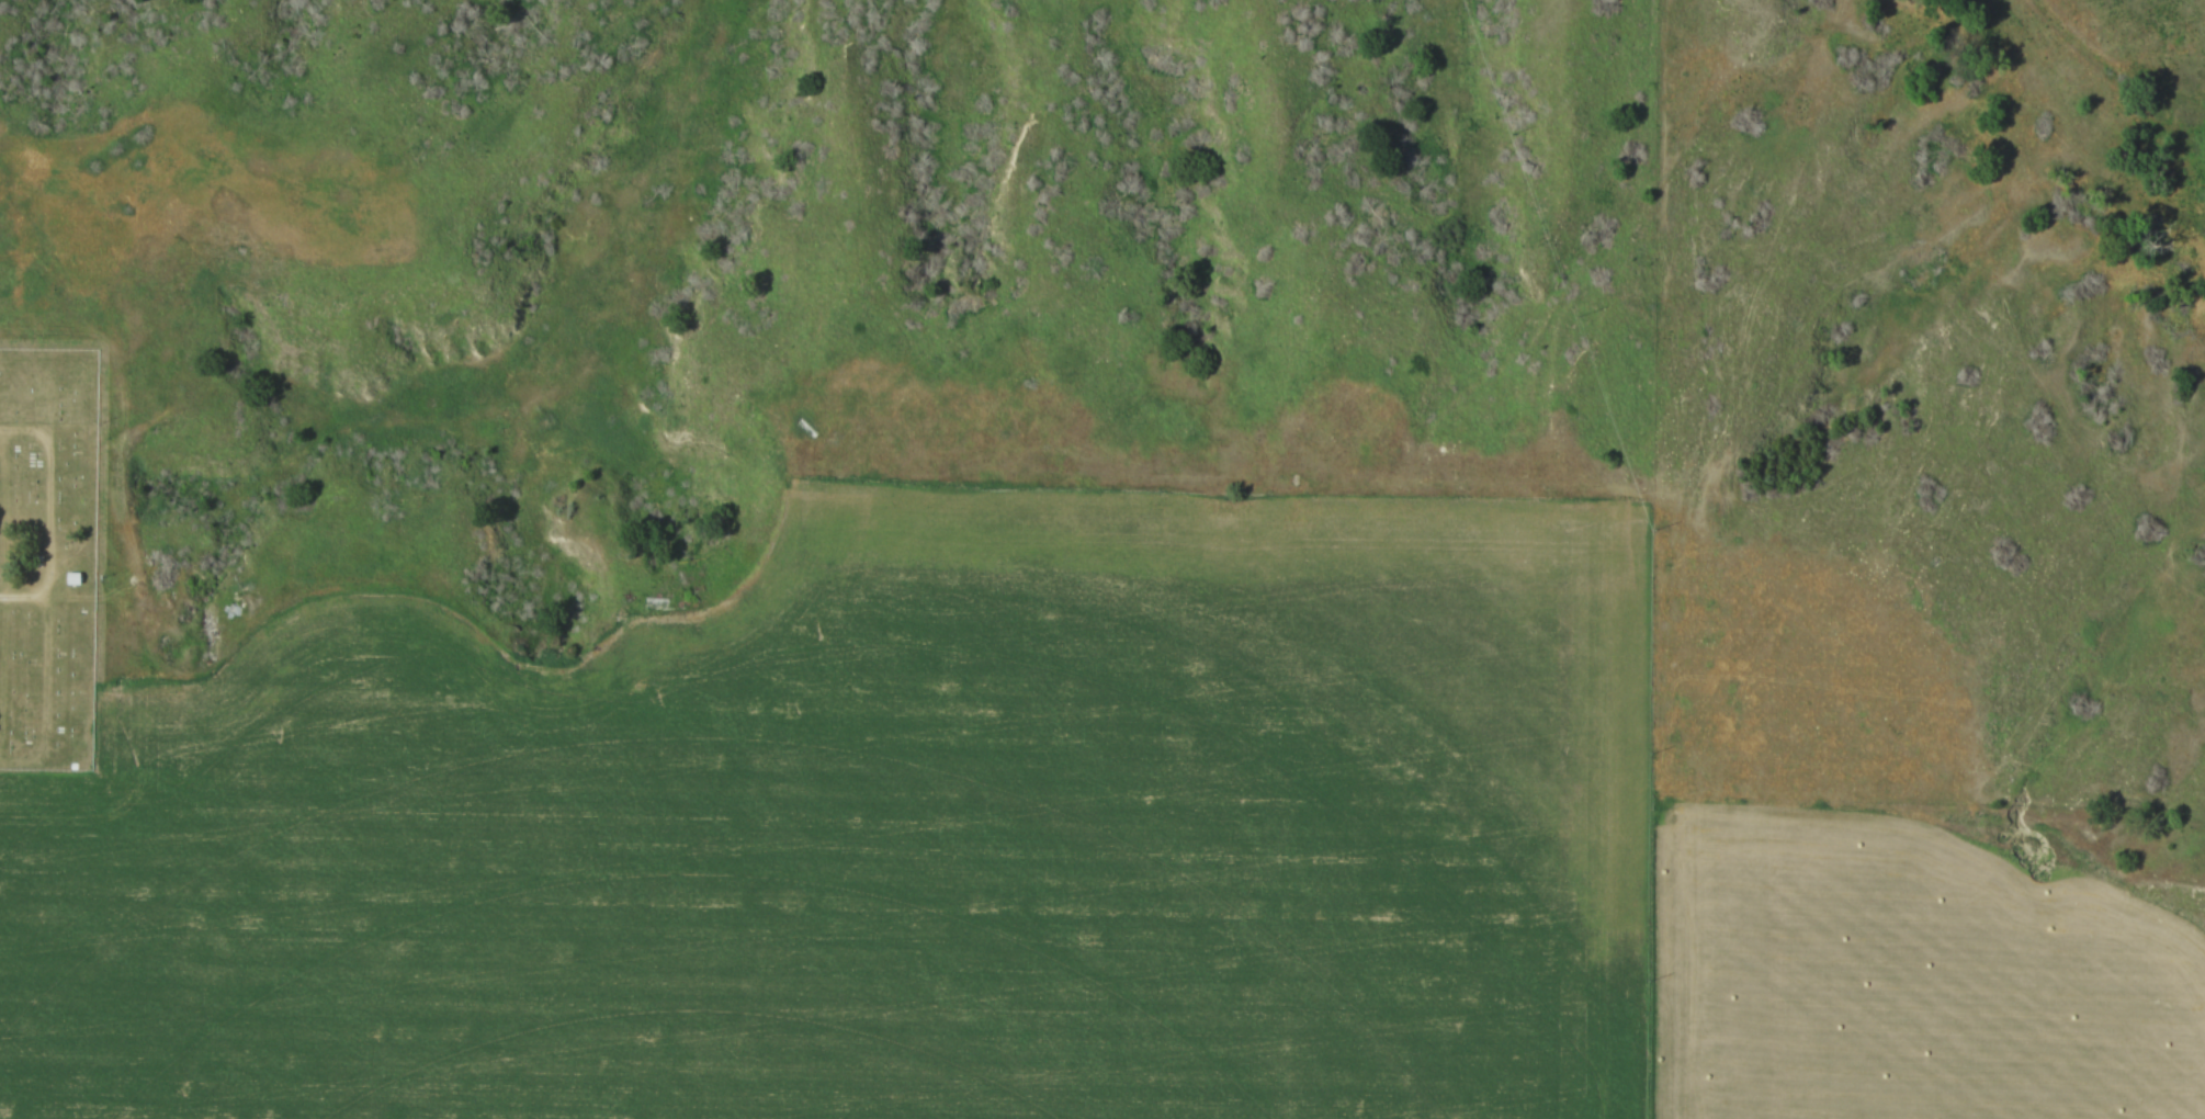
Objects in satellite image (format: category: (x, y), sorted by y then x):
building: (72, 578)
road: (15, 594)
crop: (1910, 969)

